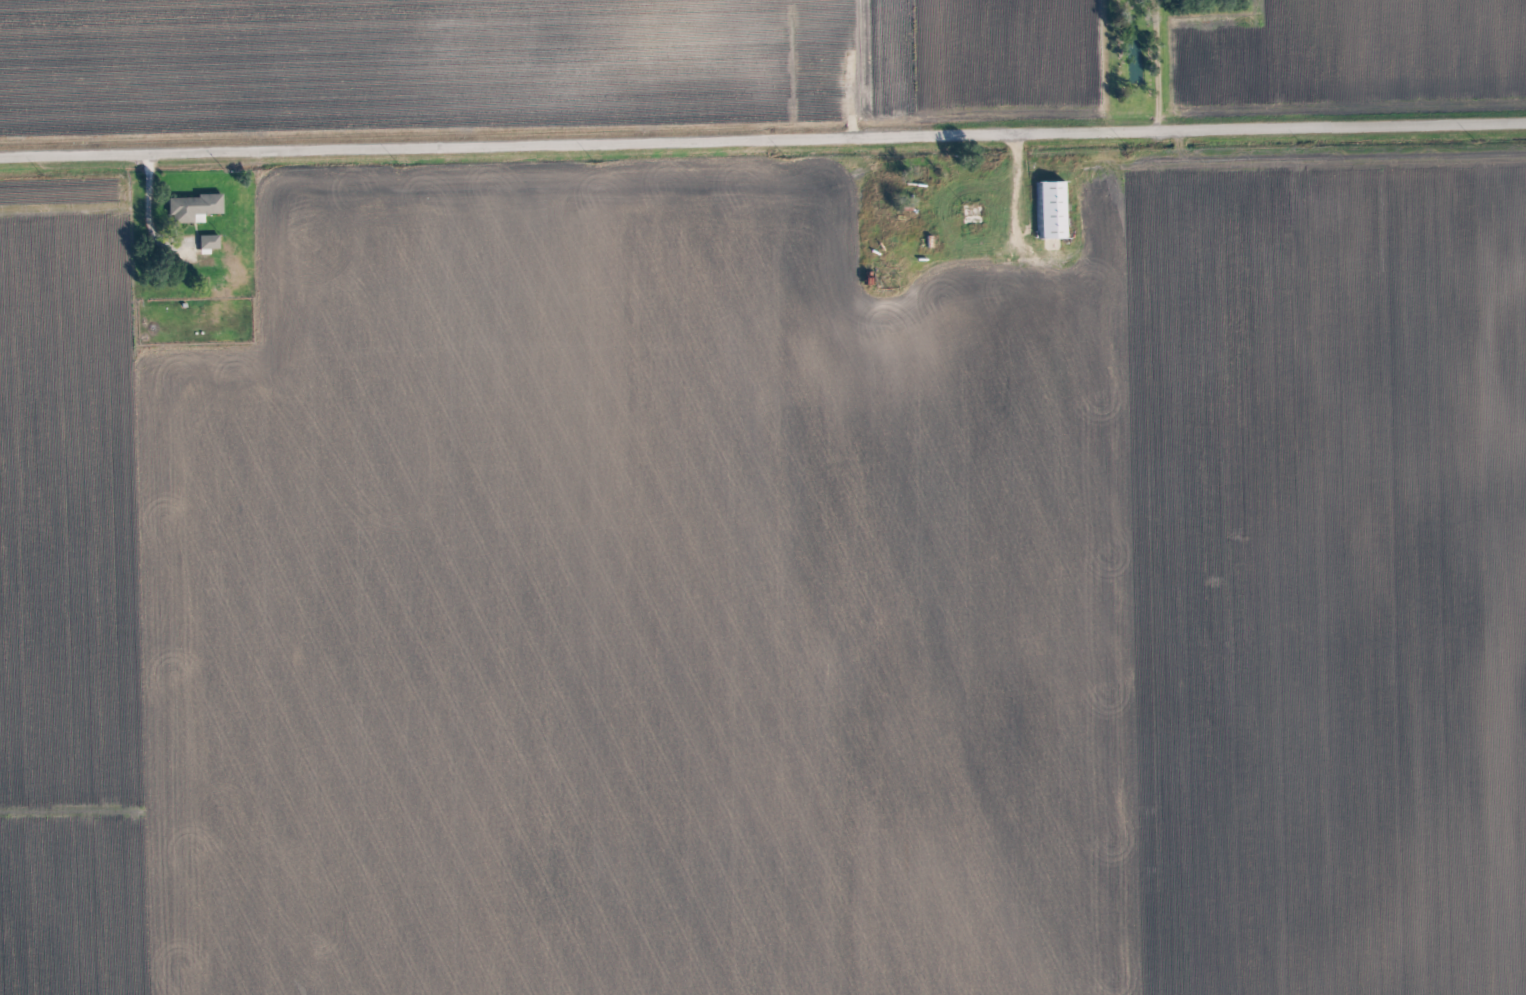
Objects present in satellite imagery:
road: (1160, 64)
road: (844, 108)
road: (763, 142)
road: (933, 178)
building: (194, 208)
road: (145, 210)
building: (1053, 211)
building: (211, 241)

